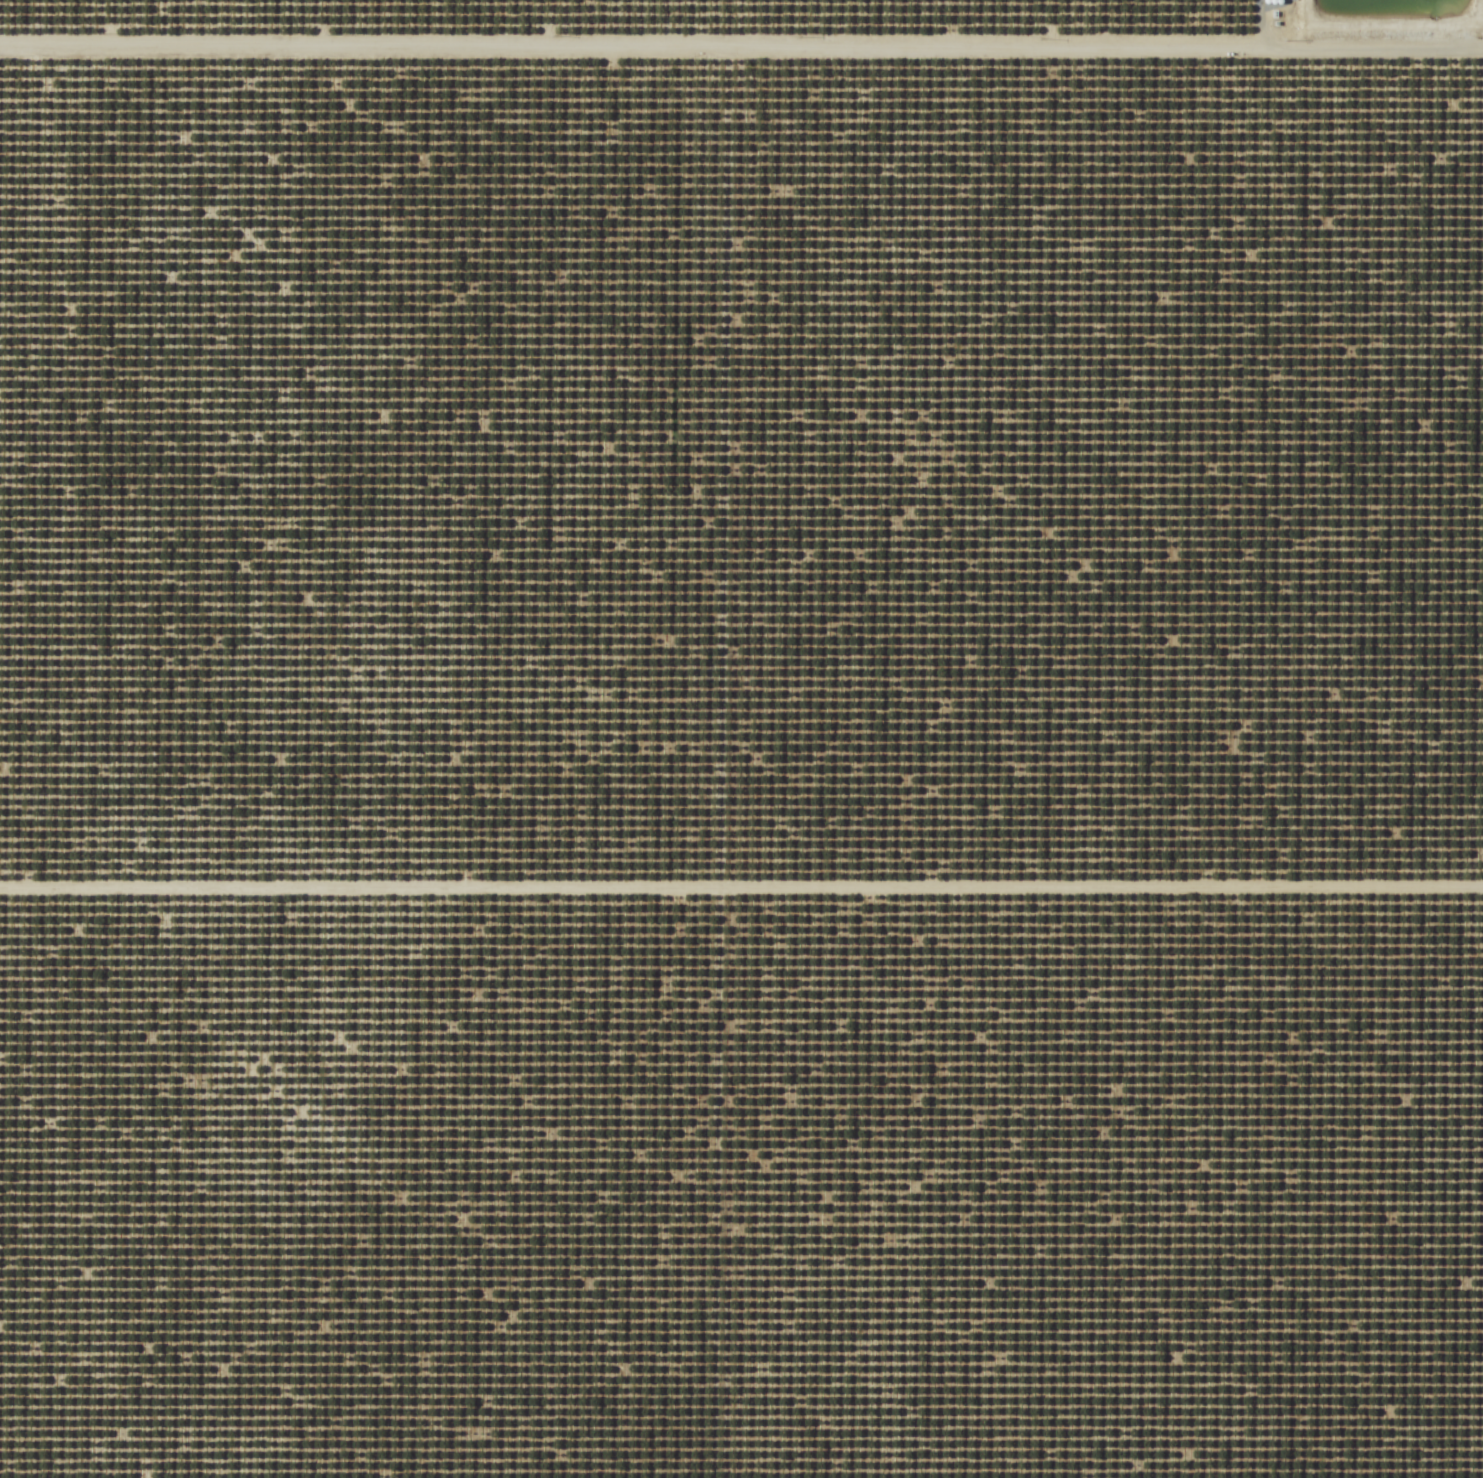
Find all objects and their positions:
wastewater plant: (1383, 5)
road: (741, 29)

